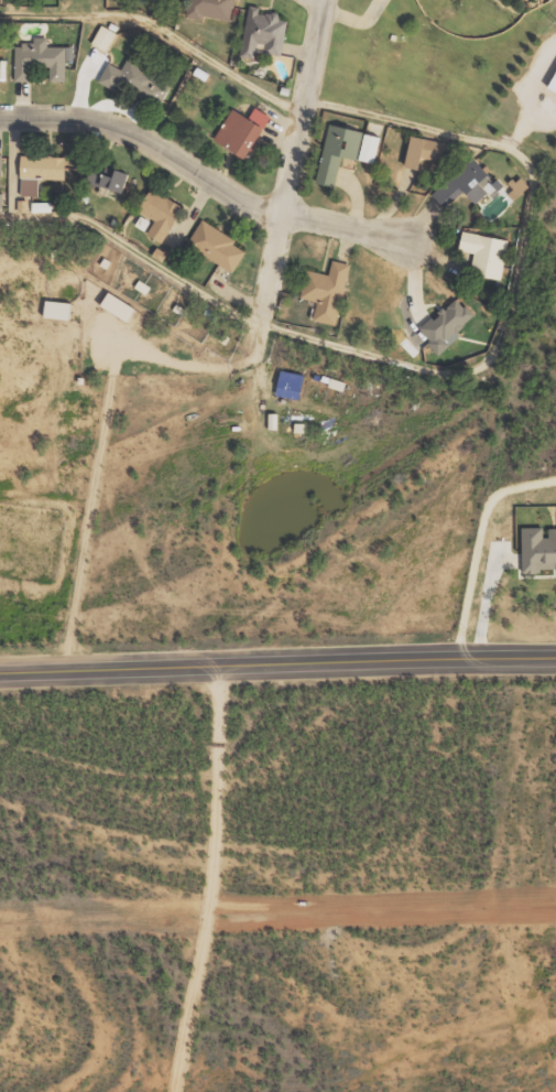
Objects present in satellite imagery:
building: (9, 1)
building: (214, 9)
building: (2, 29)
road: (160, 33)
building: (264, 33)
building: (106, 37)
building: (41, 60)
building: (135, 79)
building: (555, 85)
building: (244, 130)
building: (347, 150)
building: (428, 151)
building: (2, 163)
road: (291, 163)
building: (42, 171)
road: (203, 176)
building: (116, 180)
building: (469, 182)
building: (43, 206)
building: (163, 214)
building: (144, 223)
building: (218, 246)
road: (137, 252)
building: (487, 253)
road: (514, 263)
building: (329, 290)
building: (61, 310)
building: (449, 324)
building: (251, 339)
building: (293, 385)
building: (539, 549)
road: (277, 663)

